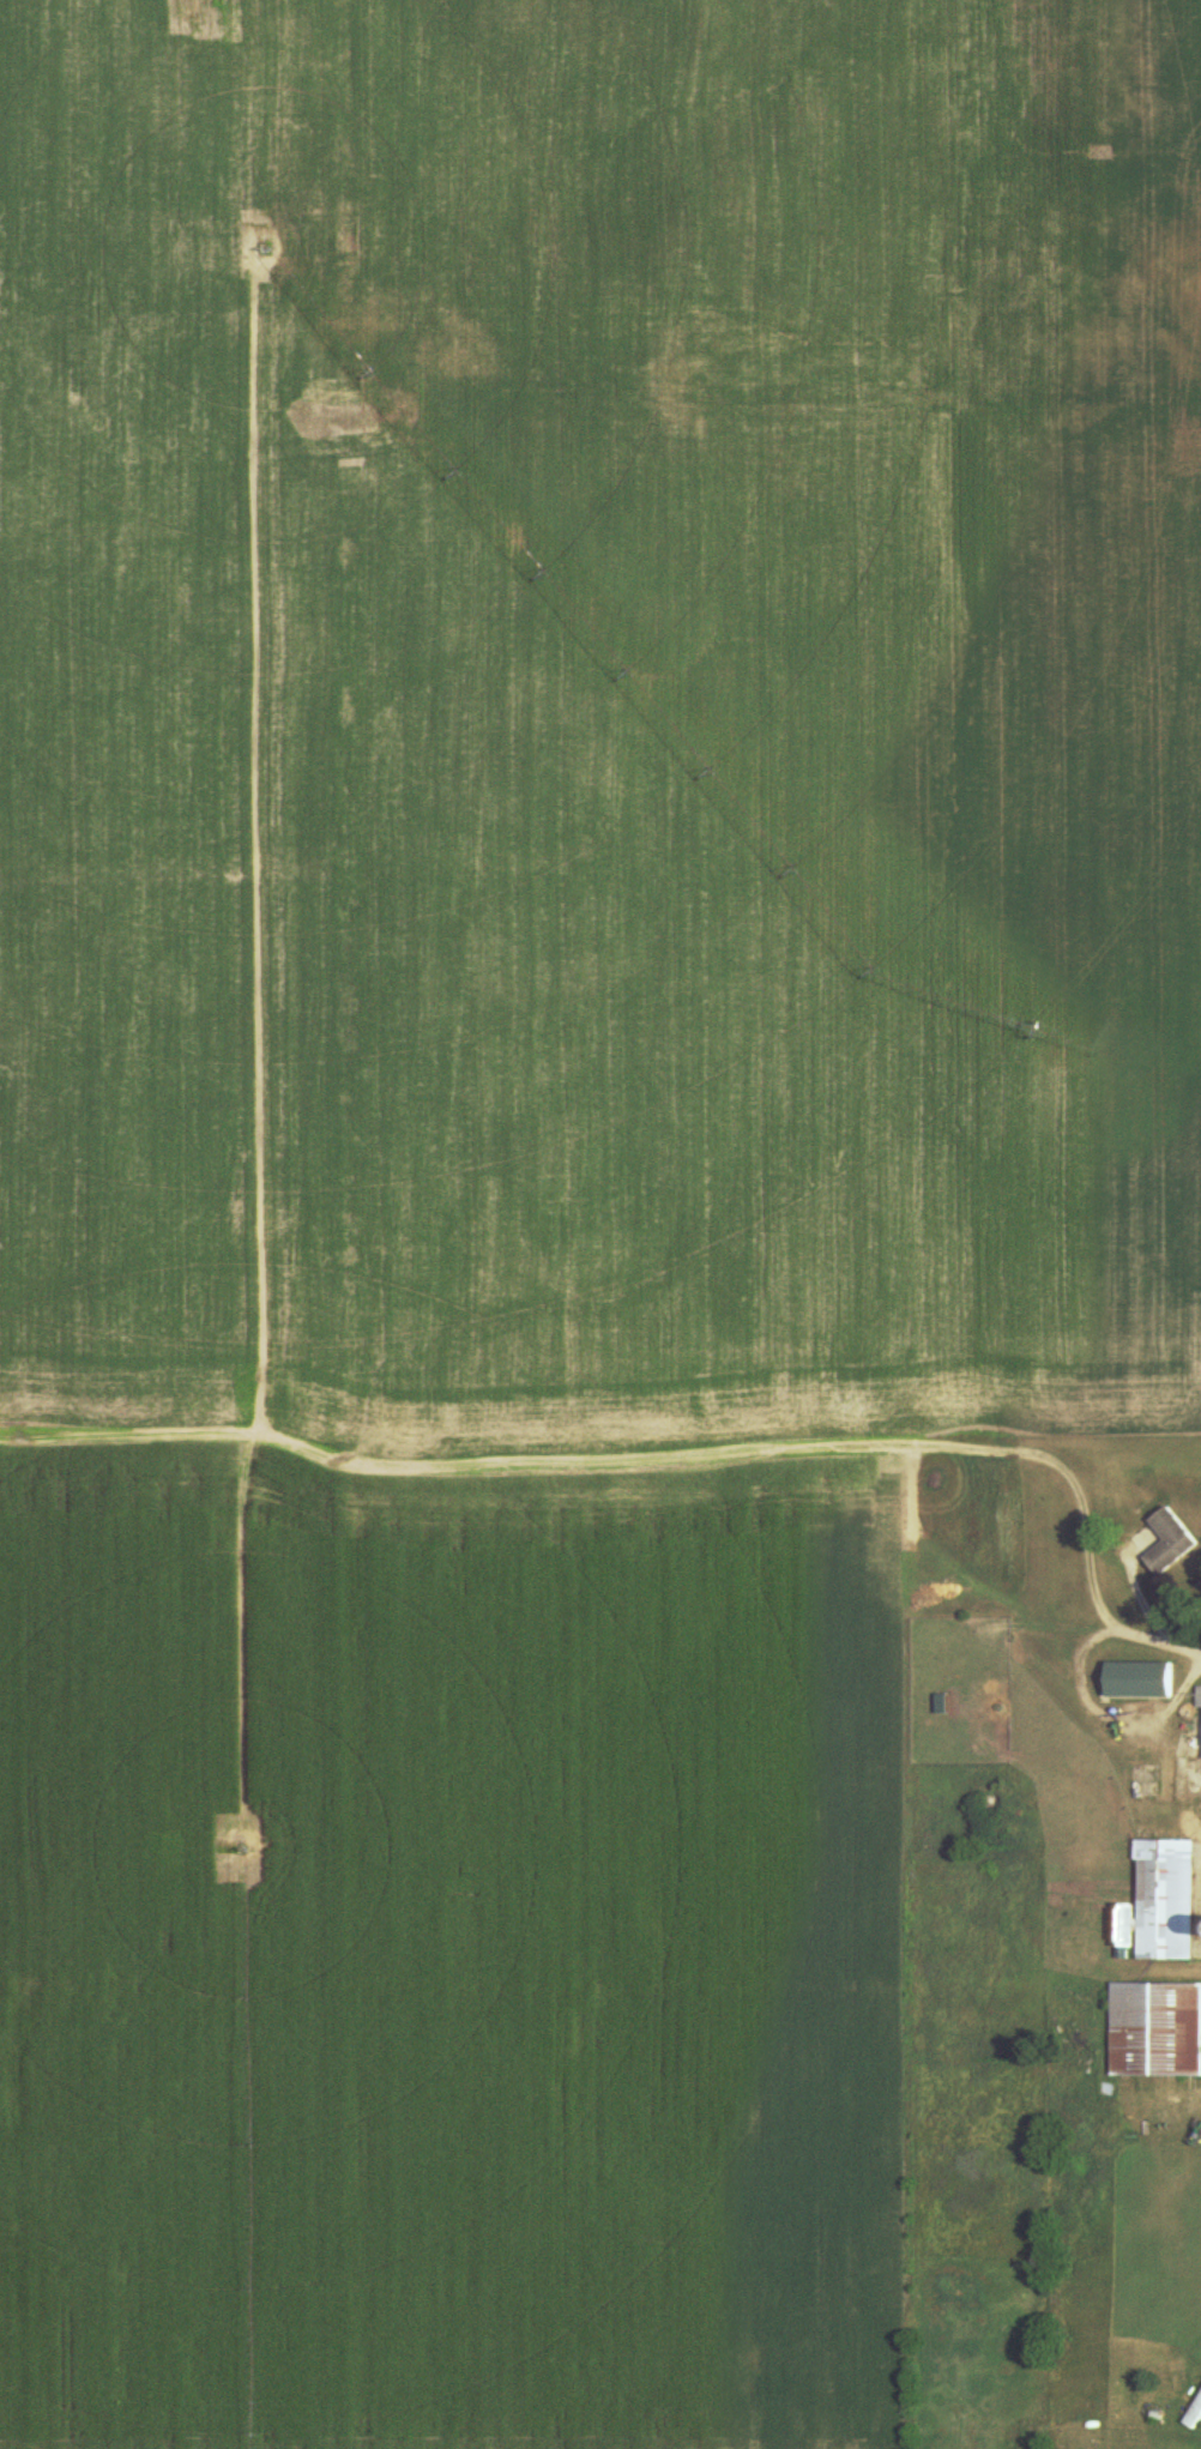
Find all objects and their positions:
building: (1164, 1539)
building: (1131, 1679)
building: (1196, 1697)
building: (1161, 1900)
building: (1119, 1936)
building: (1152, 2029)
building: (1191, 2411)

